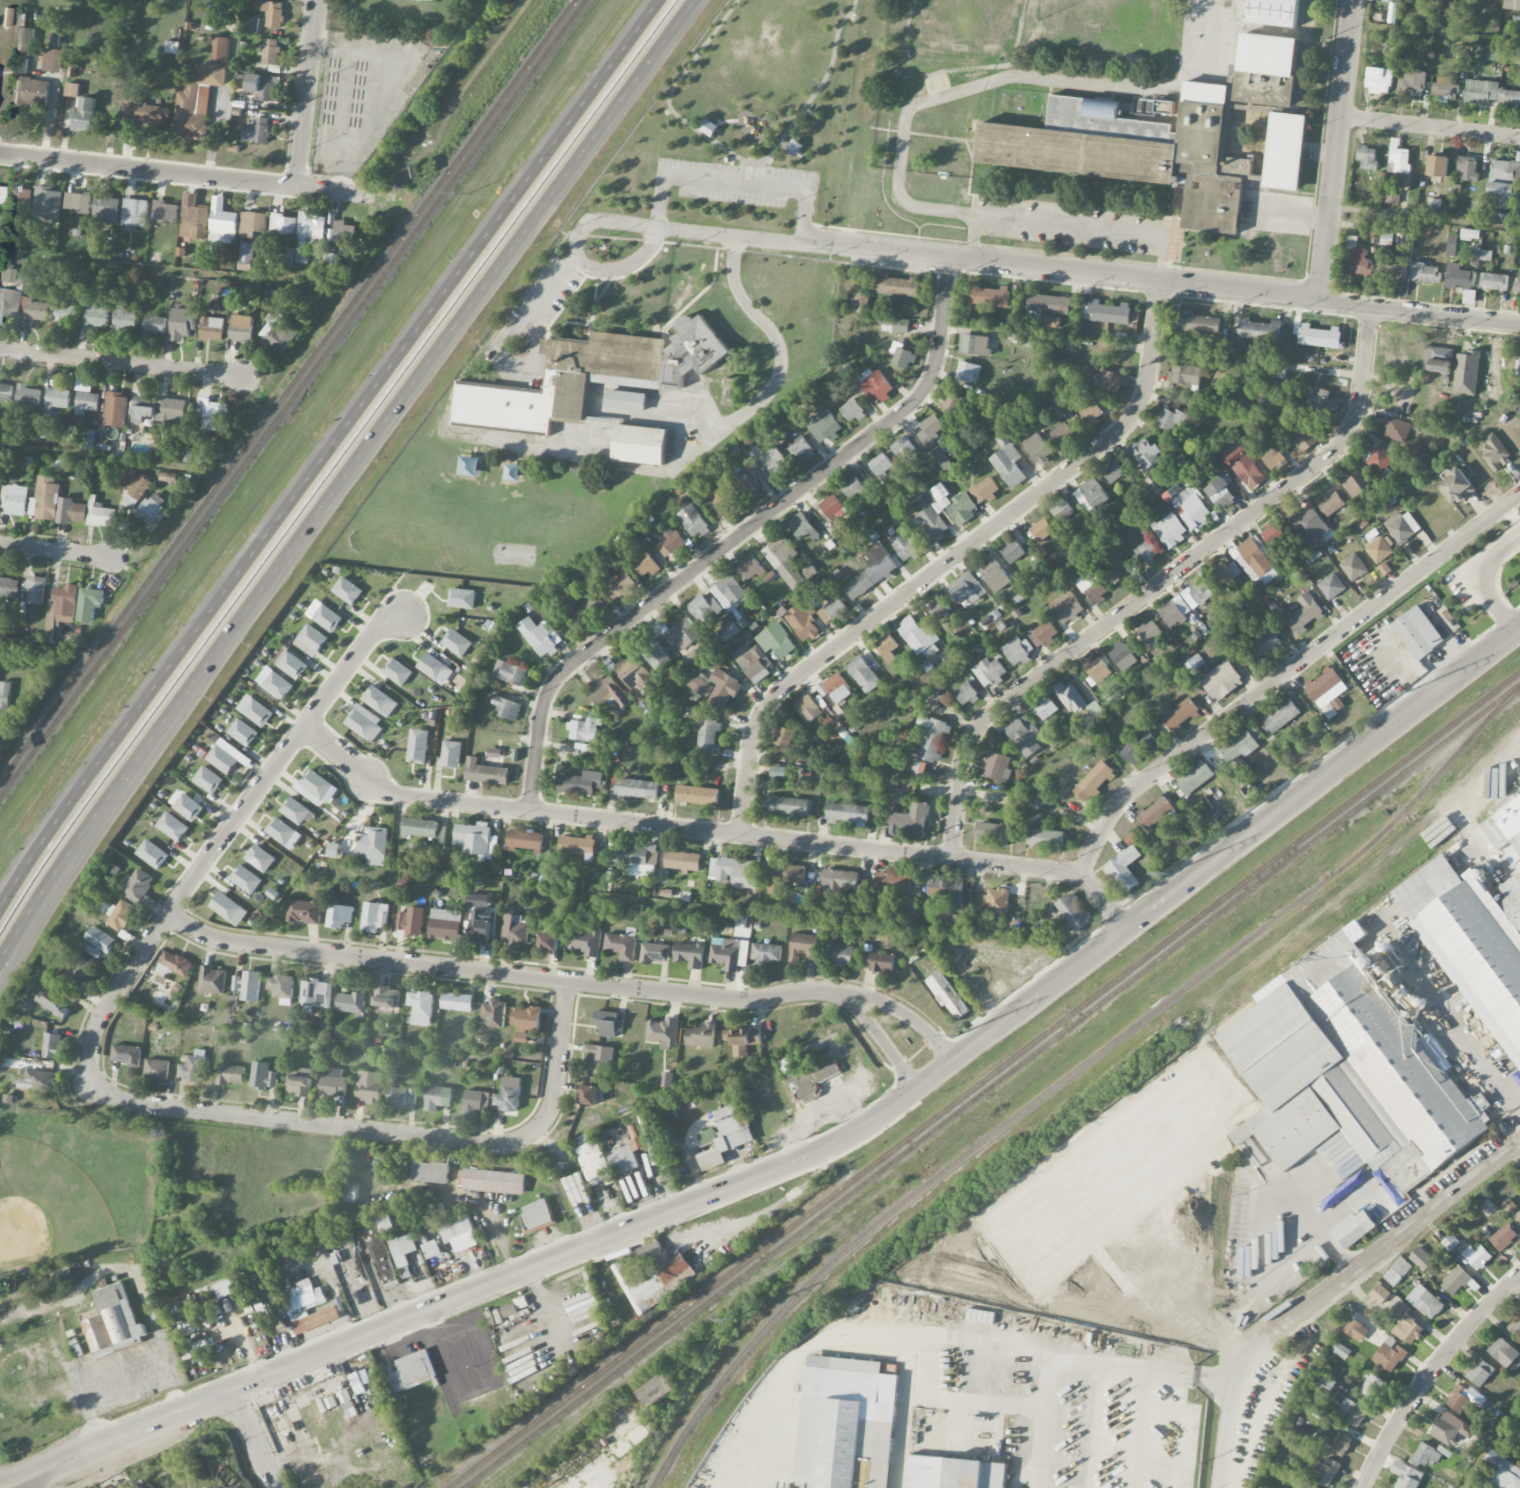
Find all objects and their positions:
building: (1512, 4)
building: (271, 12)
building: (1274, 12)
building: (250, 24)
building: (24, 49)
building: (270, 51)
building: (53, 60)
building: (1379, 80)
building: (1411, 82)
building: (261, 85)
building: (1444, 87)
building: (72, 89)
building: (31, 91)
building: (1480, 91)
building: (201, 93)
road: (308, 94)
road: (937, 95)
building: (1509, 97)
building: (1156, 107)
building: (84, 113)
park: (762, 118)
building: (709, 127)
road: (1430, 127)
building: (257, 131)
building: (1159, 136)
building: (1285, 151)
road: (1336, 151)
building: (1367, 157)
building: (1399, 159)
building: (1438, 165)
building: (1467, 167)
road: (189, 175)
building: (1504, 177)
road: (732, 182)
building: (1, 193)
building: (20, 196)
building: (78, 202)
building: (48, 203)
building: (1434, 203)
building: (107, 209)
building: (165, 211)
building: (135, 212)
road: (1425, 216)
building: (193, 218)
building: (222, 222)
building: (251, 223)
building: (282, 224)
road: (620, 224)
road: (1067, 226)
road: (657, 228)
building: (308, 232)
building: (343, 232)
building: (1469, 233)
road: (731, 236)
building: (1451, 245)
building: (285, 255)
building: (245, 256)
building: (1357, 258)
road: (625, 265)
building: (1424, 273)
building: (1459, 277)
building: (1494, 281)
road: (1161, 284)
building: (1517, 285)
building: (898, 286)
road: (551, 291)
building: (988, 295)
building: (11, 302)
building: (861, 302)
building: (1049, 303)
building: (38, 310)
building: (96, 312)
building: (1106, 312)
building: (65, 313)
building: (980, 314)
building: (124, 320)
building: (182, 323)
building: (1199, 323)
building: (155, 324)
building: (896, 325)
building: (242, 328)
building: (212, 329)
building: (1259, 329)
building: (277, 332)
building: (1319, 336)
building: (1029, 340)
building: (974, 344)
road: (777, 347)
building: (903, 358)
building: (1437, 359)
road: (121, 364)
building: (1274, 369)
building: (968, 372)
building: (641, 374)
building: (1185, 374)
building: (1109, 381)
building: (877, 387)
railway: (288, 391)
building: (5, 392)
building: (27, 395)
building: (85, 395)
building: (57, 398)
railway: (293, 398)
building: (626, 400)
building: (1321, 402)
building: (956, 406)
building: (115, 409)
building: (143, 409)
building: (853, 410)
building: (171, 411)
building: (1092, 411)
road: (392, 413)
building: (213, 416)
building: (1170, 418)
building: (825, 426)
building: (1424, 428)
building: (1397, 430)
building: (1300, 433)
building: (1063, 434)
building: (88, 439)
building: (933, 439)
building: (641, 444)
building: (1039, 448)
building: (801, 449)
building: (1413, 449)
building: (159, 450)
building: (905, 450)
building: (1495, 452)
road: (325, 453)
building: (1148, 453)
building: (1271, 455)
building: (1380, 459)
building: (1008, 462)
building: (771, 463)
building: (881, 466)
building: (1248, 470)
building: (1114, 471)
building: (168, 476)
building: (748, 482)
building: (1356, 485)
building: (853, 487)
building: (1456, 487)
building: (985, 489)
building: (136, 492)
building: (1221, 493)
building: (1092, 495)
building: (722, 499)
building: (1331, 504)
building: (1190, 506)
building: (833, 507)
building: (1063, 509)
building: (71, 511)
building: (151, 512)
building: (100, 513)
building: (928, 515)
building: (694, 520)
building: (1310, 525)
building: (801, 526)
building: (1401, 526)
building: (1042, 529)
building: (1170, 529)
building: (1274, 533)
road: (737, 535)
building: (671, 543)
building: (906, 547)
building: (1014, 550)
building: (1379, 550)
building: (1147, 551)
road: (54, 552)
road: (951, 559)
building: (1255, 559)
building: (785, 560)
building: (646, 565)
road: (1488, 565)
building: (1354, 567)
building: (1384, 568)
building: (751, 569)
building: (872, 571)
building: (1114, 571)
building: (993, 573)
building: (1223, 575)
building: (615, 581)
road: (1159, 582)
building: (1093, 586)
building: (1332, 586)
building: (9, 587)
building: (966, 588)
building: (35, 589)
building: (347, 590)
building: (730, 592)
building: (1199, 594)
building: (462, 598)
building: (89, 603)
building: (595, 604)
building: (61, 607)
building: (940, 607)
building: (1067, 607)
building: (705, 608)
building: (835, 608)
building: (1175, 611)
building: (1305, 613)
building: (327, 618)
building: (571, 618)
building: (803, 624)
building: (729, 630)
building: (1151, 632)
building: (1418, 632)
building: (684, 633)
building: (1045, 633)
building: (918, 636)
building: (539, 637)
building: (311, 639)
building: (777, 640)
building: (457, 642)
building: (1263, 646)
building: (887, 648)
building: (1017, 650)
building: (656, 654)
building: (1123, 656)
building: (290, 663)
building: (754, 663)
building: (1193, 663)
building: (1097, 668)
building: (435, 669)
building: (991, 670)
building: (397, 671)
building: (510, 672)
building: (634, 672)
road: (1284, 672)
building: (863, 674)
building: (1222, 681)
building: (1323, 683)
building: (699, 684)
building: (278, 685)
building: (724, 688)
building: (835, 688)
power tower: (1406, 691)
building: (610, 692)
building: (966, 693)
building: (5, 694)
building: (1069, 697)
building: (380, 701)
building: (1045, 707)
building: (507, 708)
building: (808, 708)
building: (1095, 709)
building: (258, 712)
building: (1179, 712)
building: (1281, 715)
building: (851, 720)
building: (364, 723)
building: (584, 729)
building: (243, 732)
building: (1024, 735)
building: (709, 736)
building: (784, 737)
building: (932, 738)
building: (1242, 742)
building: (1139, 746)
building: (418, 750)
building: (451, 754)
road: (282, 755)
building: (225, 757)
building: (997, 766)
building: (778, 771)
building: (486, 772)
building: (1195, 777)
building: (208, 779)
railway: (1432, 779)
building: (1094, 781)
building: (581, 782)
building: (318, 788)
building: (637, 788)
building: (698, 795)
railway: (1431, 801)
building: (787, 805)
building: (188, 807)
building: (297, 811)
building: (1155, 811)
building: (849, 813)
building: (910, 821)
building: (1503, 825)
building: (173, 826)
building: (420, 827)
building: (280, 830)
road: (717, 831)
building: (994, 833)
building: (476, 839)
building: (1046, 839)
building: (524, 840)
building: (374, 842)
building: (578, 846)
building: (153, 854)
building: (260, 858)
building: (684, 860)
building: (1518, 866)
building: (1124, 869)
building: (736, 871)
power tower: (1167, 874)
building: (785, 876)
building: (246, 879)
building: (839, 880)
building: (893, 882)
building: (138, 887)
building: (947, 889)
road: (43, 895)
building: (997, 900)
road: (45, 908)
building: (229, 909)
building: (304, 911)
building: (1073, 912)
building: (120, 915)
building: (339, 915)
building: (375, 916)
building: (412, 920)
building: (446, 924)
building: (481, 926)
building: (513, 927)
building: (100, 939)
building: (1473, 940)
building: (549, 941)
building: (585, 941)
building: (622, 944)
building: (803, 946)
building: (94, 950)
building: (655, 952)
building: (766, 952)
building: (726, 953)
building: (690, 954)
building: (843, 955)
building: (881, 962)
building: (176, 963)
building: (80, 971)
road: (498, 972)
building: (213, 980)
building: (248, 985)
building: (281, 986)
road: (117, 992)
building: (315, 994)
building: (948, 995)
building: (386, 996)
building: (457, 1001)
building: (351, 1002)
building: (55, 1003)
building: (420, 1007)
road: (902, 1011)
building: (495, 1012)
building: (526, 1021)
building: (608, 1023)
building: (664, 1032)
building: (701, 1035)
road: (879, 1035)
power tower: (955, 1037)
building: (743, 1040)
road: (1461, 1043)
building: (52, 1045)
building: (126, 1054)
building: (599, 1058)
building: (193, 1067)
building: (157, 1069)
building: (1348, 1073)
building: (231, 1074)
building: (262, 1076)
building: (808, 1077)
railway: (983, 1079)
building: (38, 1080)
building: (333, 1083)
building: (298, 1085)
railway: (991, 1085)
building: (369, 1086)
building: (508, 1094)
building: (589, 1095)
building: (400, 1096)
building: (438, 1097)
building: (476, 1102)
road: (870, 1121)
road: (391, 1133)
building: (725, 1136)
railway: (970, 1151)
building: (626, 1156)
building: (592, 1159)
building: (431, 1169)
building: (492, 1181)
park: (72, 1186)
building: (349, 1191)
building: (537, 1215)
building: (1518, 1215)
building: (387, 1225)
road: (1316, 1225)
building: (1354, 1228)
building: (1504, 1237)
building: (466, 1240)
building: (1450, 1241)
building: (433, 1249)
building: (404, 1252)
building: (381, 1256)
building: (1478, 1256)
building: (1421, 1258)
building: (1398, 1271)
building: (653, 1275)
building: (1456, 1280)
building: (238, 1284)
building: (226, 1289)
road: (1330, 1289)
building: (1380, 1294)
building: (1425, 1301)
building: (309, 1307)
building: (113, 1322)
power tower: (733, 1322)
building: (1407, 1325)
building: (1516, 1326)
building: (1355, 1330)
building: (1341, 1350)
building: (1503, 1352)
building: (1390, 1355)
road: (1083, 1362)
building: (413, 1371)
building: (1480, 1372)
road: (1429, 1373)
building: (360, 1381)
building: (1373, 1386)
building: (658, 1390)
building: (1459, 1397)
building: (350, 1408)
building: (1352, 1412)
building: (846, 1421)
building: (1452, 1429)
road: (255, 1438)
building: (1341, 1445)
building: (1518, 1449)
road: (58, 1453)
building: (1425, 1455)
road: (77, 1462)
building: (1503, 1470)
building: (1326, 1472)
building: (954, 1473)
building: (1407, 1475)
building: (865, 1479)
road: (47, 1484)
building: (1309, 1486)

